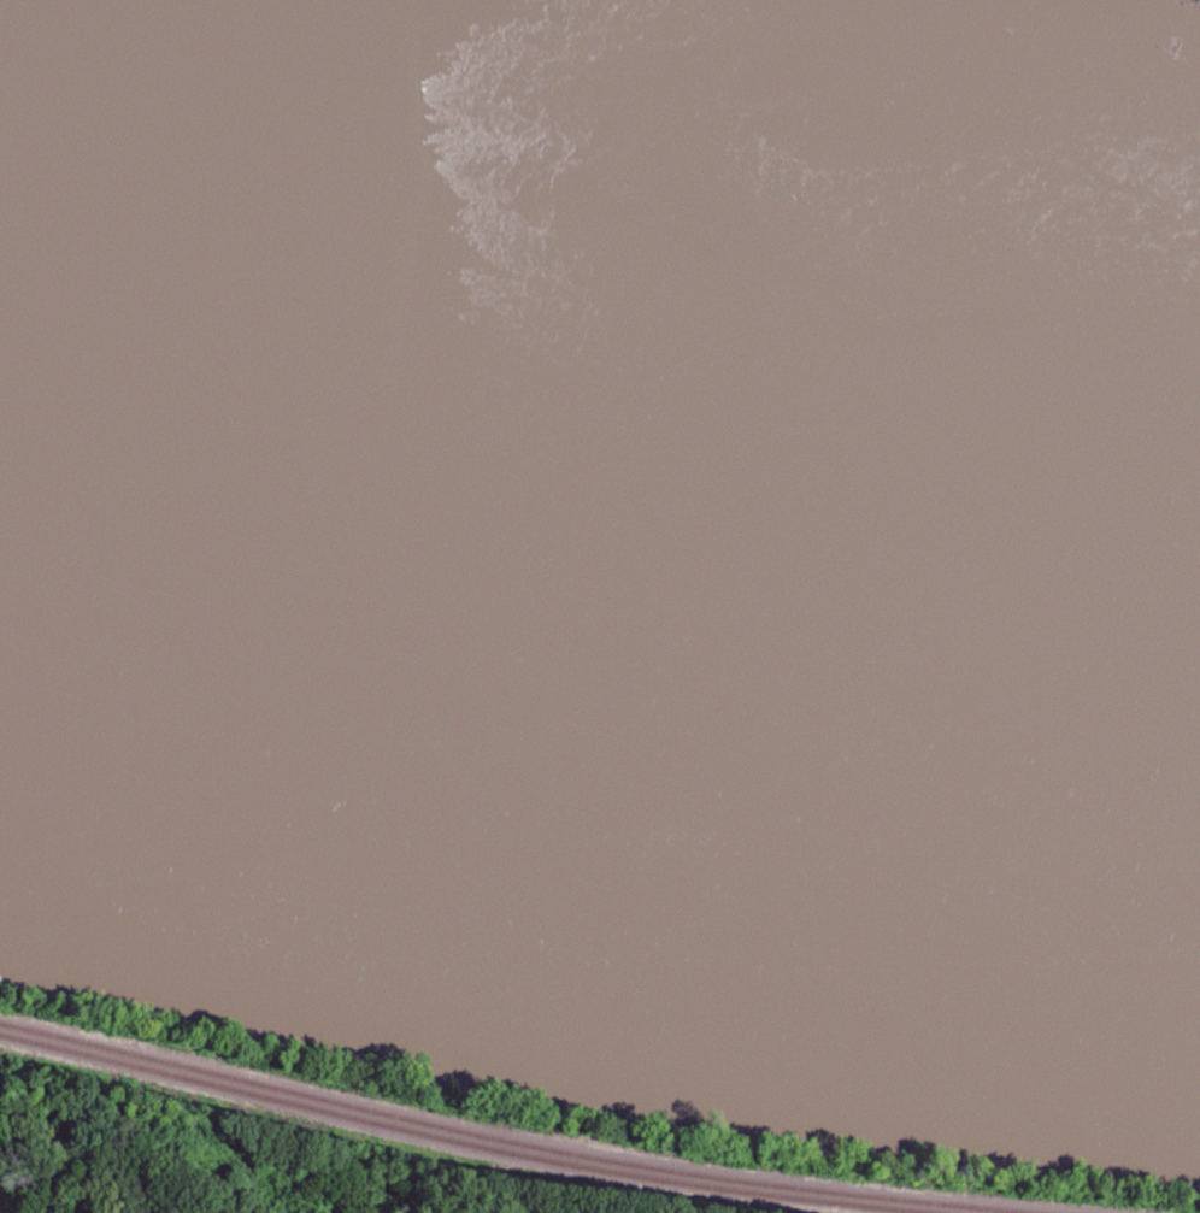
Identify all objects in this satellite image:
river: (600, 612)
railway: (540, 1144)
railway: (458, 1150)

